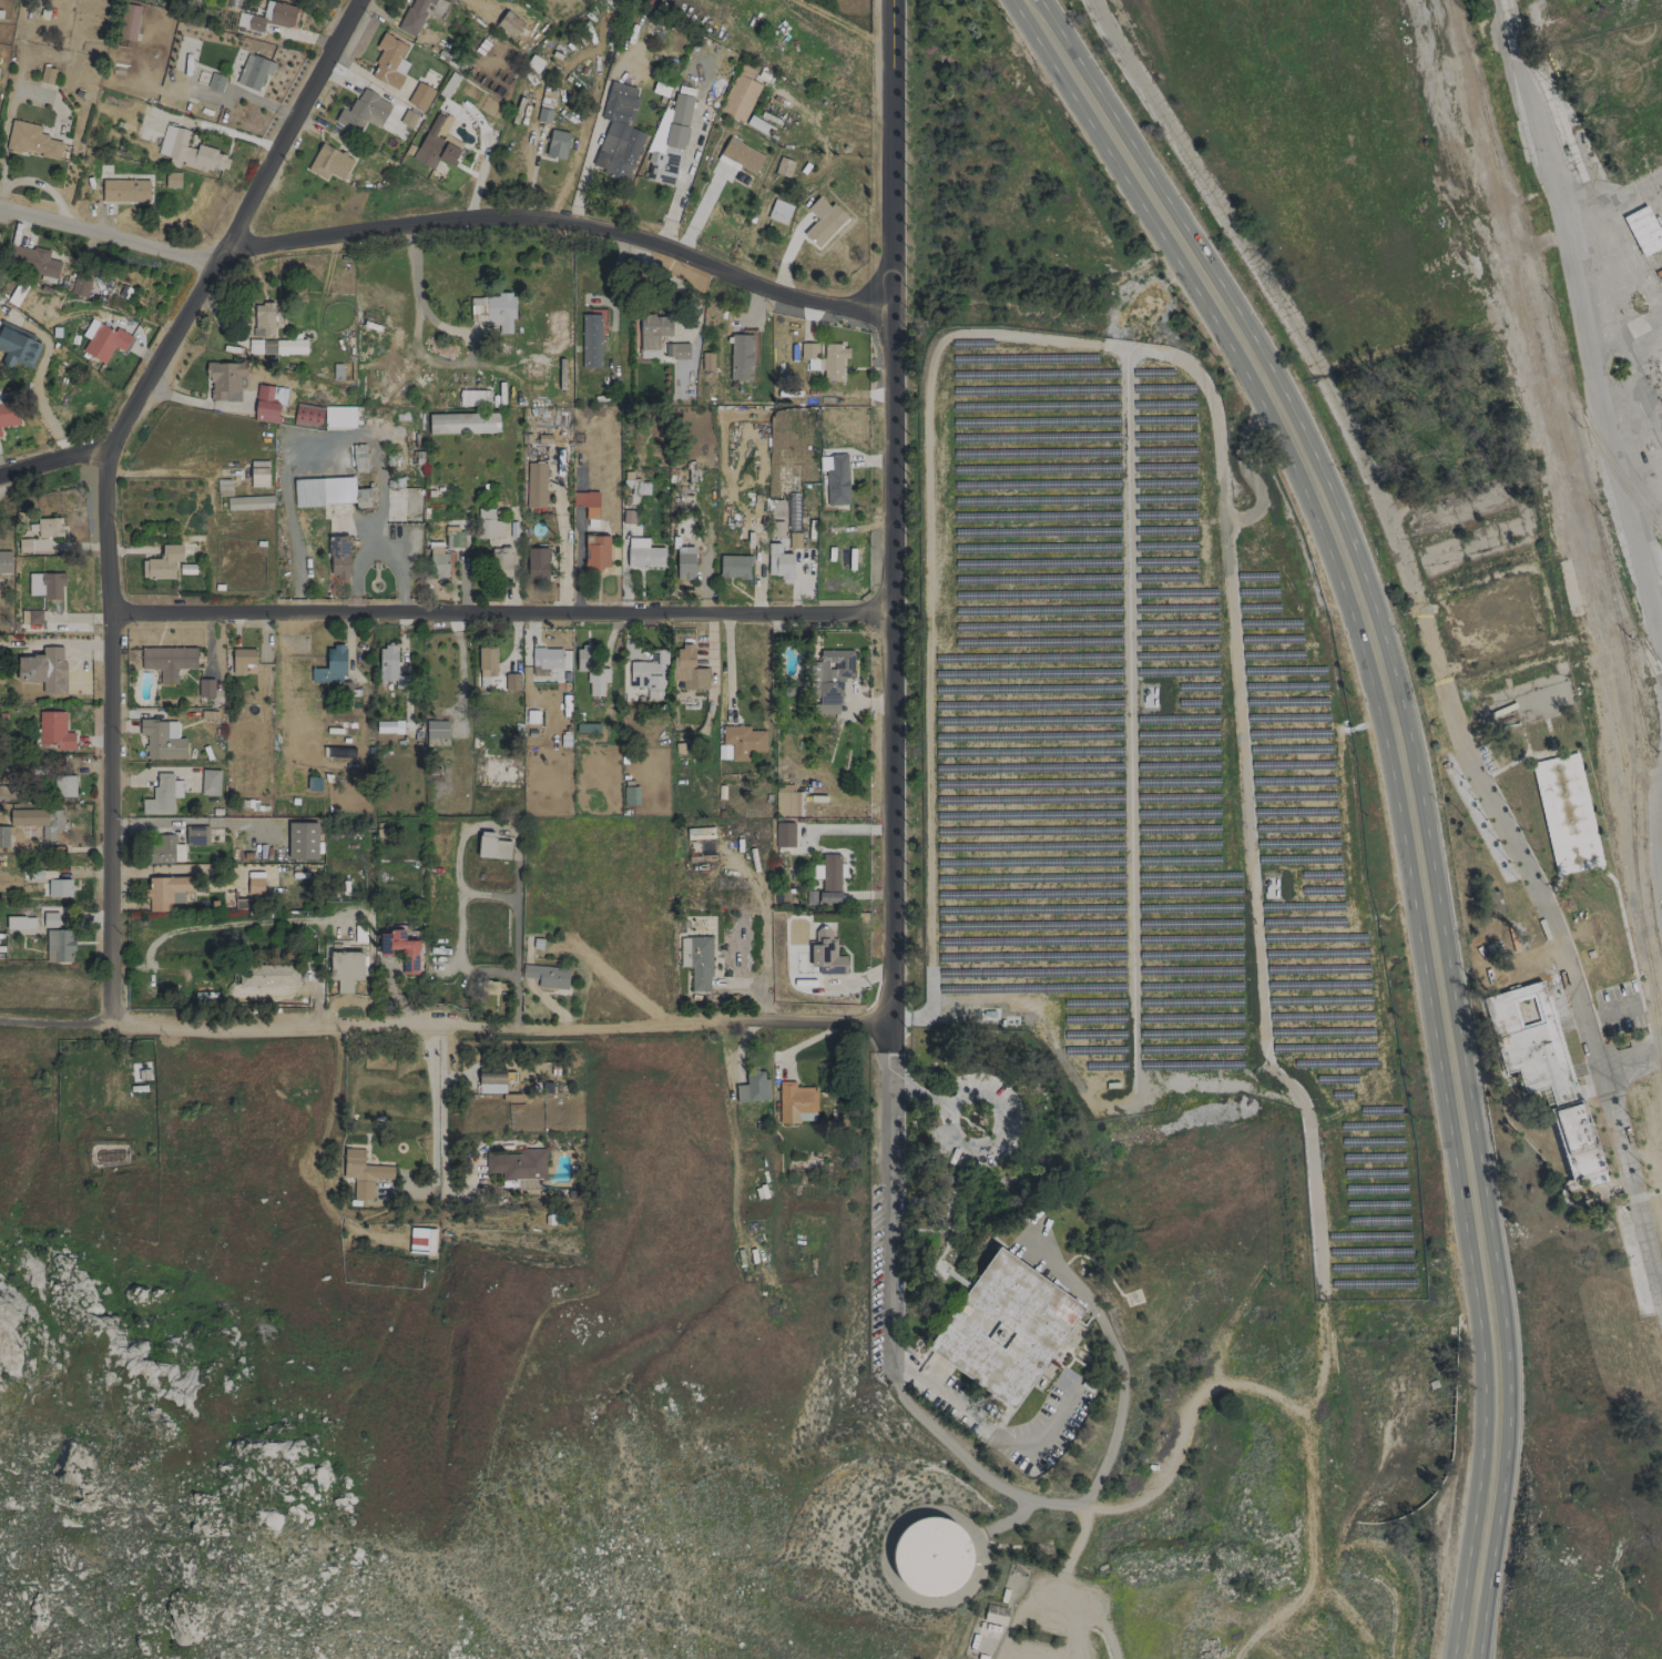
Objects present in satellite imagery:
building: (231, 2)
building: (271, 16)
building: (414, 16)
building: (509, 23)
building: (389, 61)
building: (254, 71)
building: (215, 81)
building: (419, 95)
building: (740, 98)
building: (363, 112)
building: (408, 118)
building: (756, 123)
building: (618, 132)
road: (283, 133)
building: (31, 140)
building: (667, 141)
building: (557, 143)
building: (436, 145)
building: (188, 151)
building: (741, 155)
building: (329, 162)
building: (783, 166)
road: (1550, 174)
building: (165, 179)
building: (124, 190)
road: (1613, 196)
building: (778, 211)
road: (567, 221)
building: (823, 221)
building: (1642, 231)
road: (105, 233)
building: (34, 259)
building: (80, 284)
building: (499, 313)
building: (264, 317)
building: (652, 334)
building: (590, 340)
building: (104, 342)
building: (18, 346)
building: (276, 346)
building: (675, 350)
building: (809, 354)
building: (740, 357)
building: (706, 360)
building: (833, 360)
building: (224, 380)
building: (473, 397)
building: (268, 403)
railway: (1567, 403)
building: (9, 413)
building: (299, 415)
building: (338, 416)
railway: (1544, 418)
building: (462, 423)
building: (0, 434)
railway: (1558, 438)
road: (1611, 444)
railway: (1604, 456)
road: (53, 458)
building: (258, 474)
building: (836, 479)
building: (534, 485)
building: (635, 485)
building: (329, 491)
building: (248, 502)
building: (585, 502)
building: (489, 525)
road: (891, 526)
building: (48, 527)
building: (453, 538)
building: (595, 551)
building: (643, 553)
building: (337, 557)
building: (4, 561)
building: (437, 561)
building: (501, 561)
building: (162, 562)
building: (685, 562)
building: (537, 563)
building: (779, 563)
building: (733, 567)
building: (45, 584)
railway: (1622, 598)
road: (502, 613)
building: (33, 617)
road: (112, 618)
road: (1425, 634)
railway: (1643, 638)
building: (545, 659)
building: (241, 660)
road: (726, 660)
building: (167, 661)
building: (487, 661)
building: (330, 666)
building: (391, 668)
building: (43, 669)
building: (689, 669)
building: (591, 670)
building: (649, 673)
building: (829, 680)
building: (511, 682)
building: (205, 686)
railway: (1633, 689)
building: (388, 726)
building: (588, 727)
building: (54, 731)
building: (436, 733)
building: (162, 739)
building: (742, 741)
road: (1403, 774)
solar farm: (1143, 776)
railway: (1652, 776)
building: (210, 782)
building: (64, 785)
building: (162, 795)
building: (630, 795)
building: (787, 801)
road: (1654, 814)
building: (40, 821)
road: (491, 825)
building: (784, 834)
building: (196, 835)
building: (4, 836)
building: (302, 841)
railway: (1632, 844)
building: (492, 846)
building: (161, 848)
building: (830, 877)
building: (254, 885)
building: (59, 887)
building: (166, 892)
building: (244, 903)
building: (49, 919)
building: (59, 946)
railway: (1645, 950)
building: (409, 951)
building: (825, 953)
building: (696, 960)
building: (346, 970)
building: (268, 975)
building: (548, 976)
railway: (1654, 1020)
road: (57, 1022)
road: (494, 1025)
road: (1631, 1050)
building: (1541, 1068)
building: (753, 1087)
road: (916, 1091)
road: (990, 1097)
building: (796, 1102)
road: (432, 1119)
building: (518, 1163)
building: (363, 1172)
building: (527, 1183)
road: (889, 1218)
building: (421, 1240)
building: (1005, 1327)
road: (987, 1428)
road: (1099, 1482)
building: (932, 1556)
storage tank: (932, 1556)
building: (995, 1615)
road: (1457, 1647)
road: (1472, 1647)

